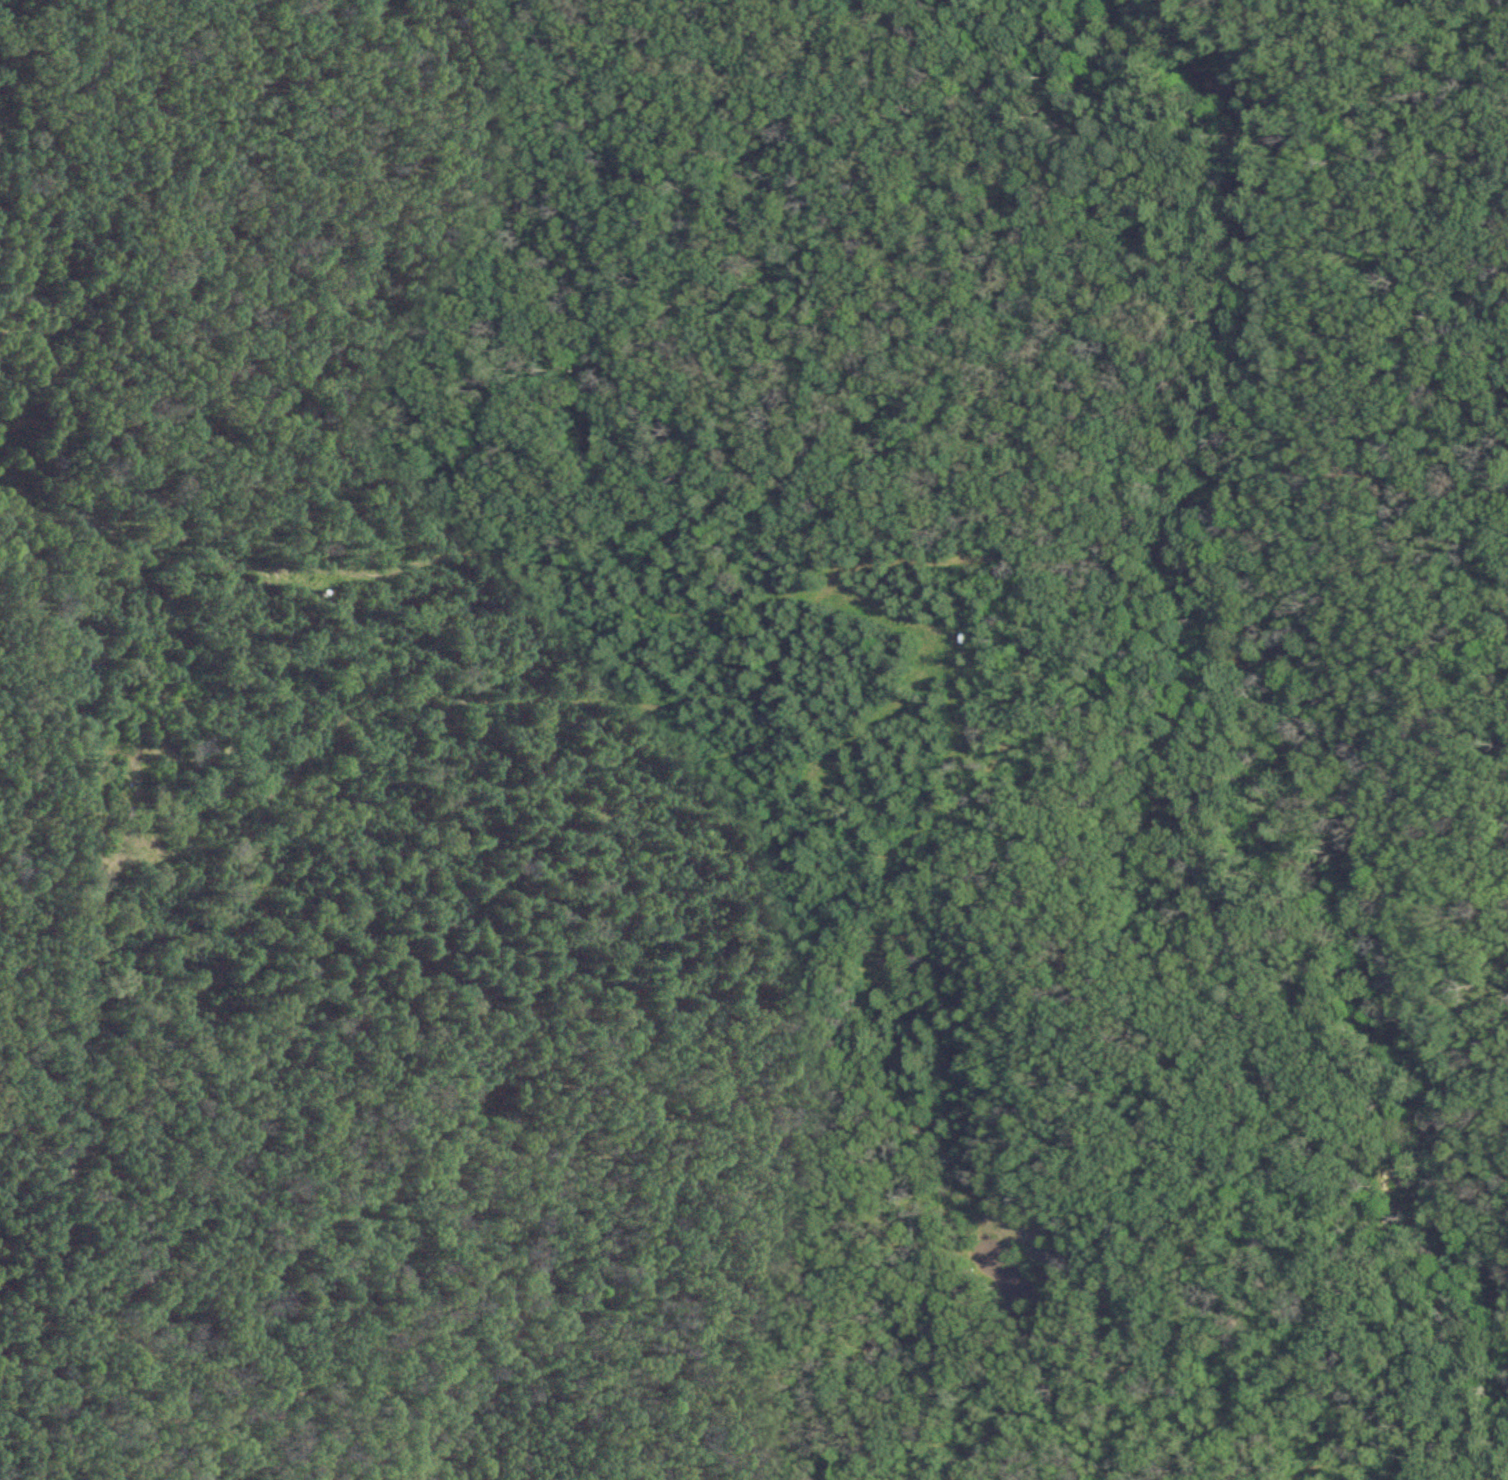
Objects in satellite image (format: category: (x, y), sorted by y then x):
road: (112, 703)
road: (1227, 917)

